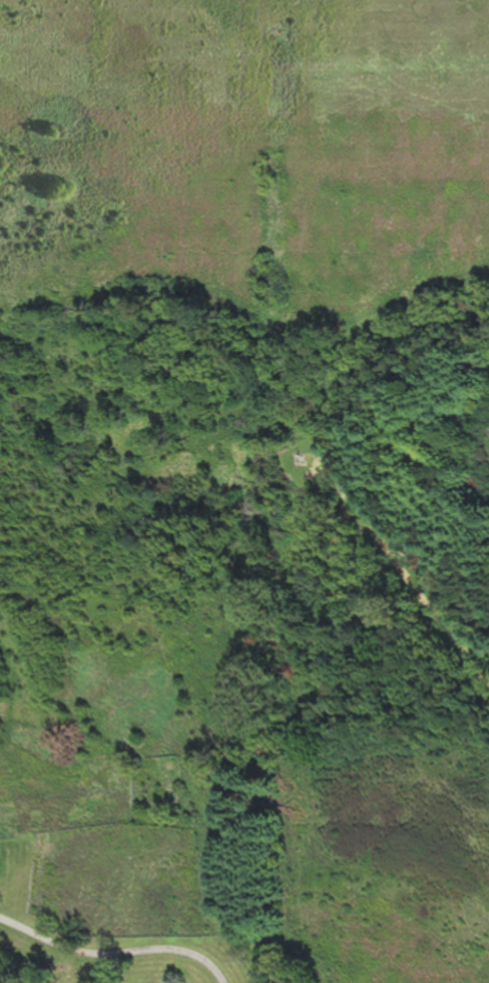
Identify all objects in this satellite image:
road: (410, 566)
building: (1, 846)
road: (221, 945)

